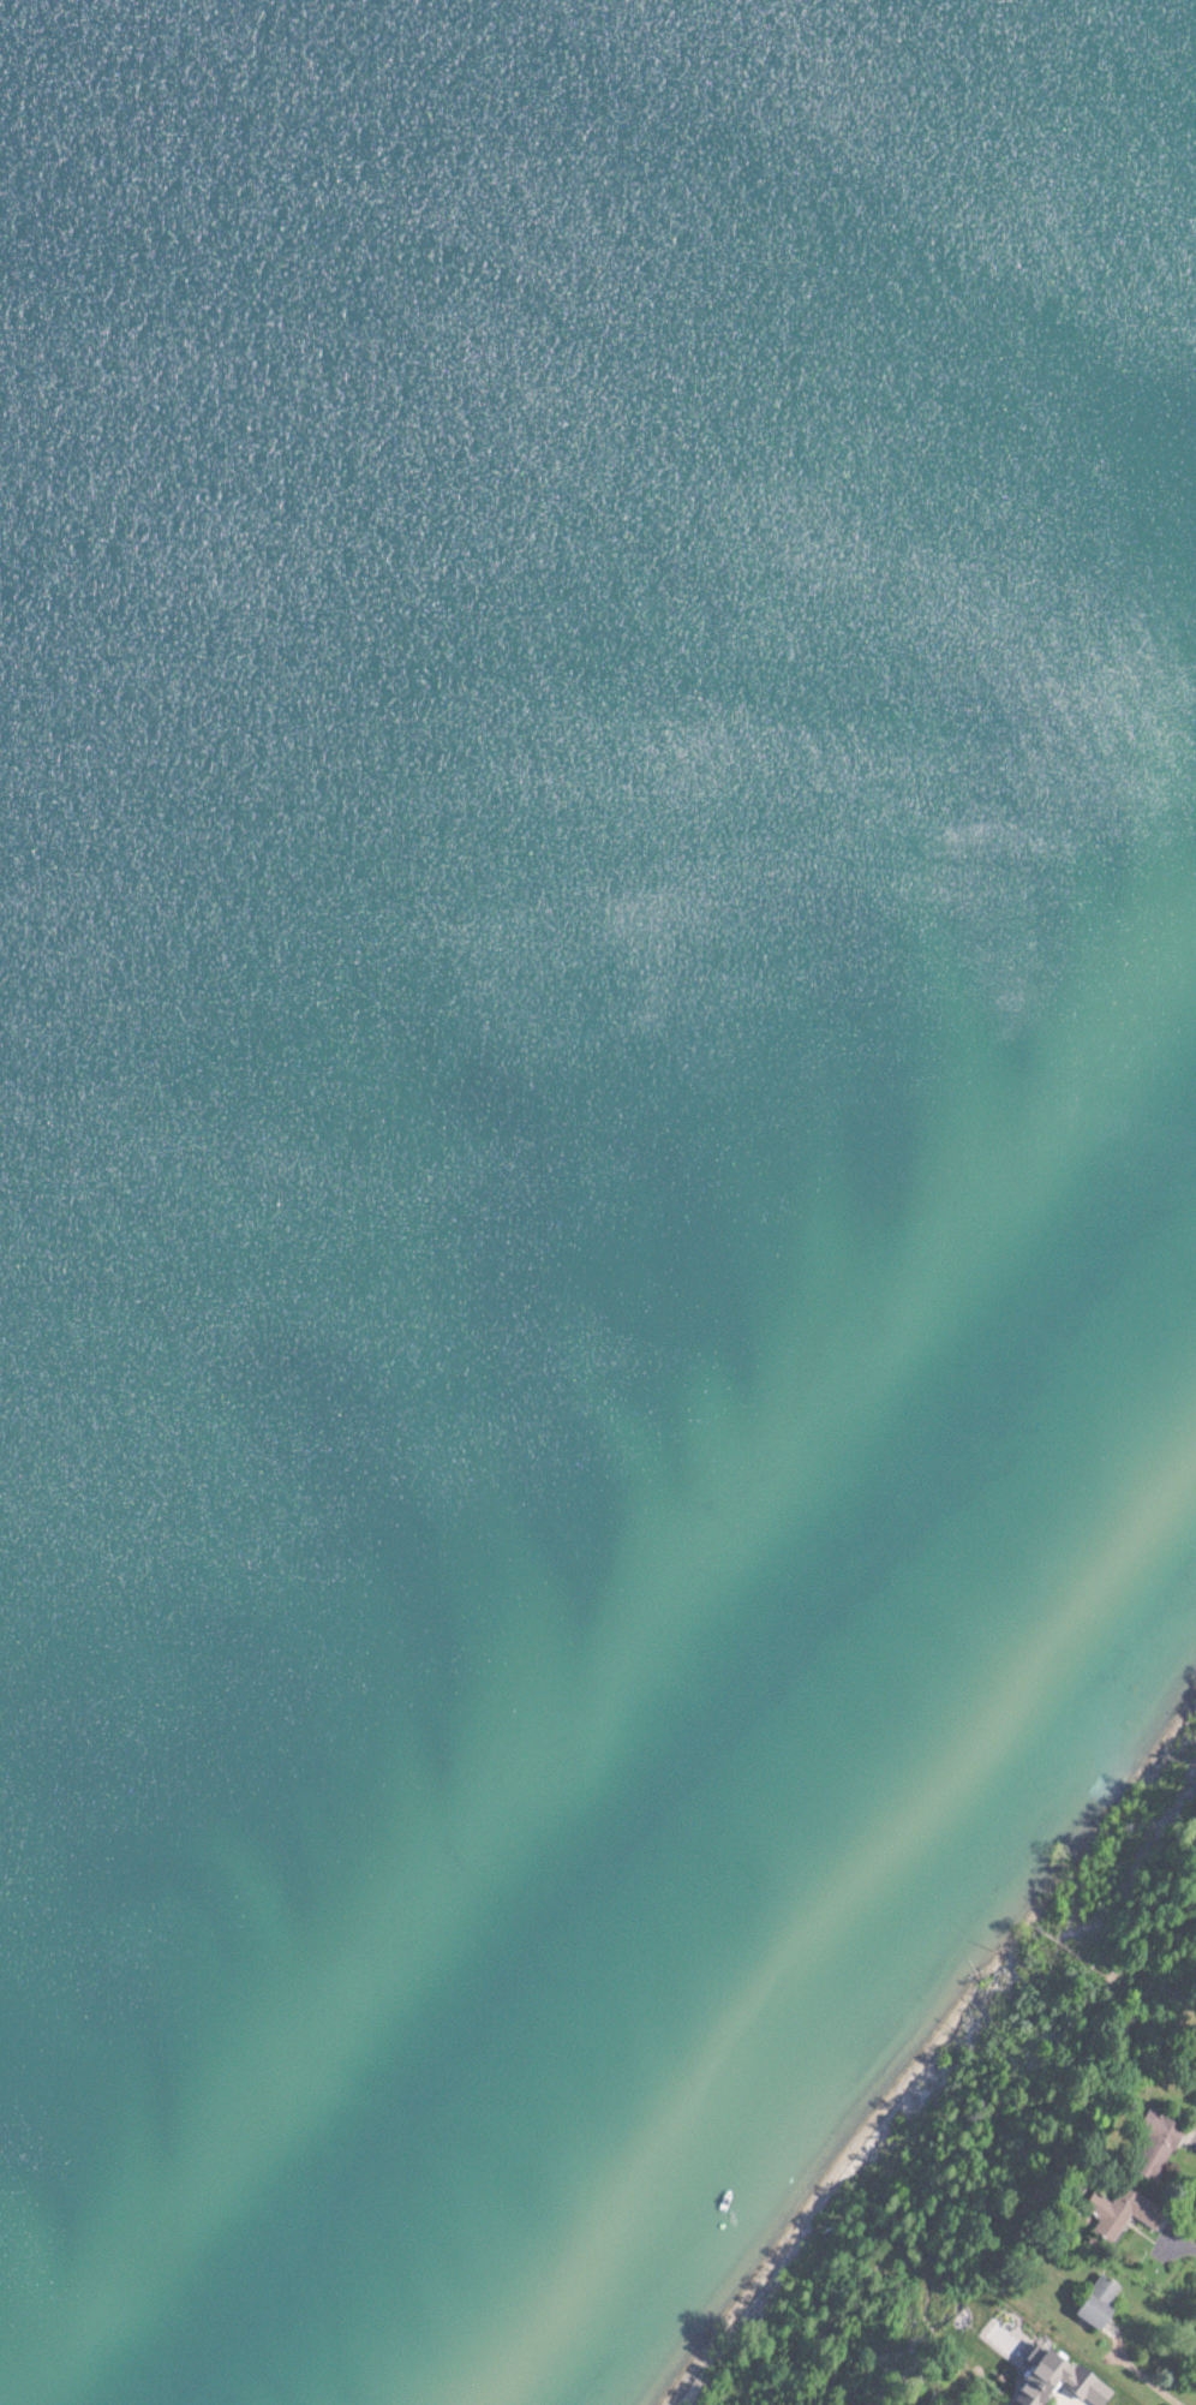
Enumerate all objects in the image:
building: (1147, 2146)
building: (1100, 2214)
road: (1183, 2244)
building: (1089, 2302)
building: (1048, 2381)

